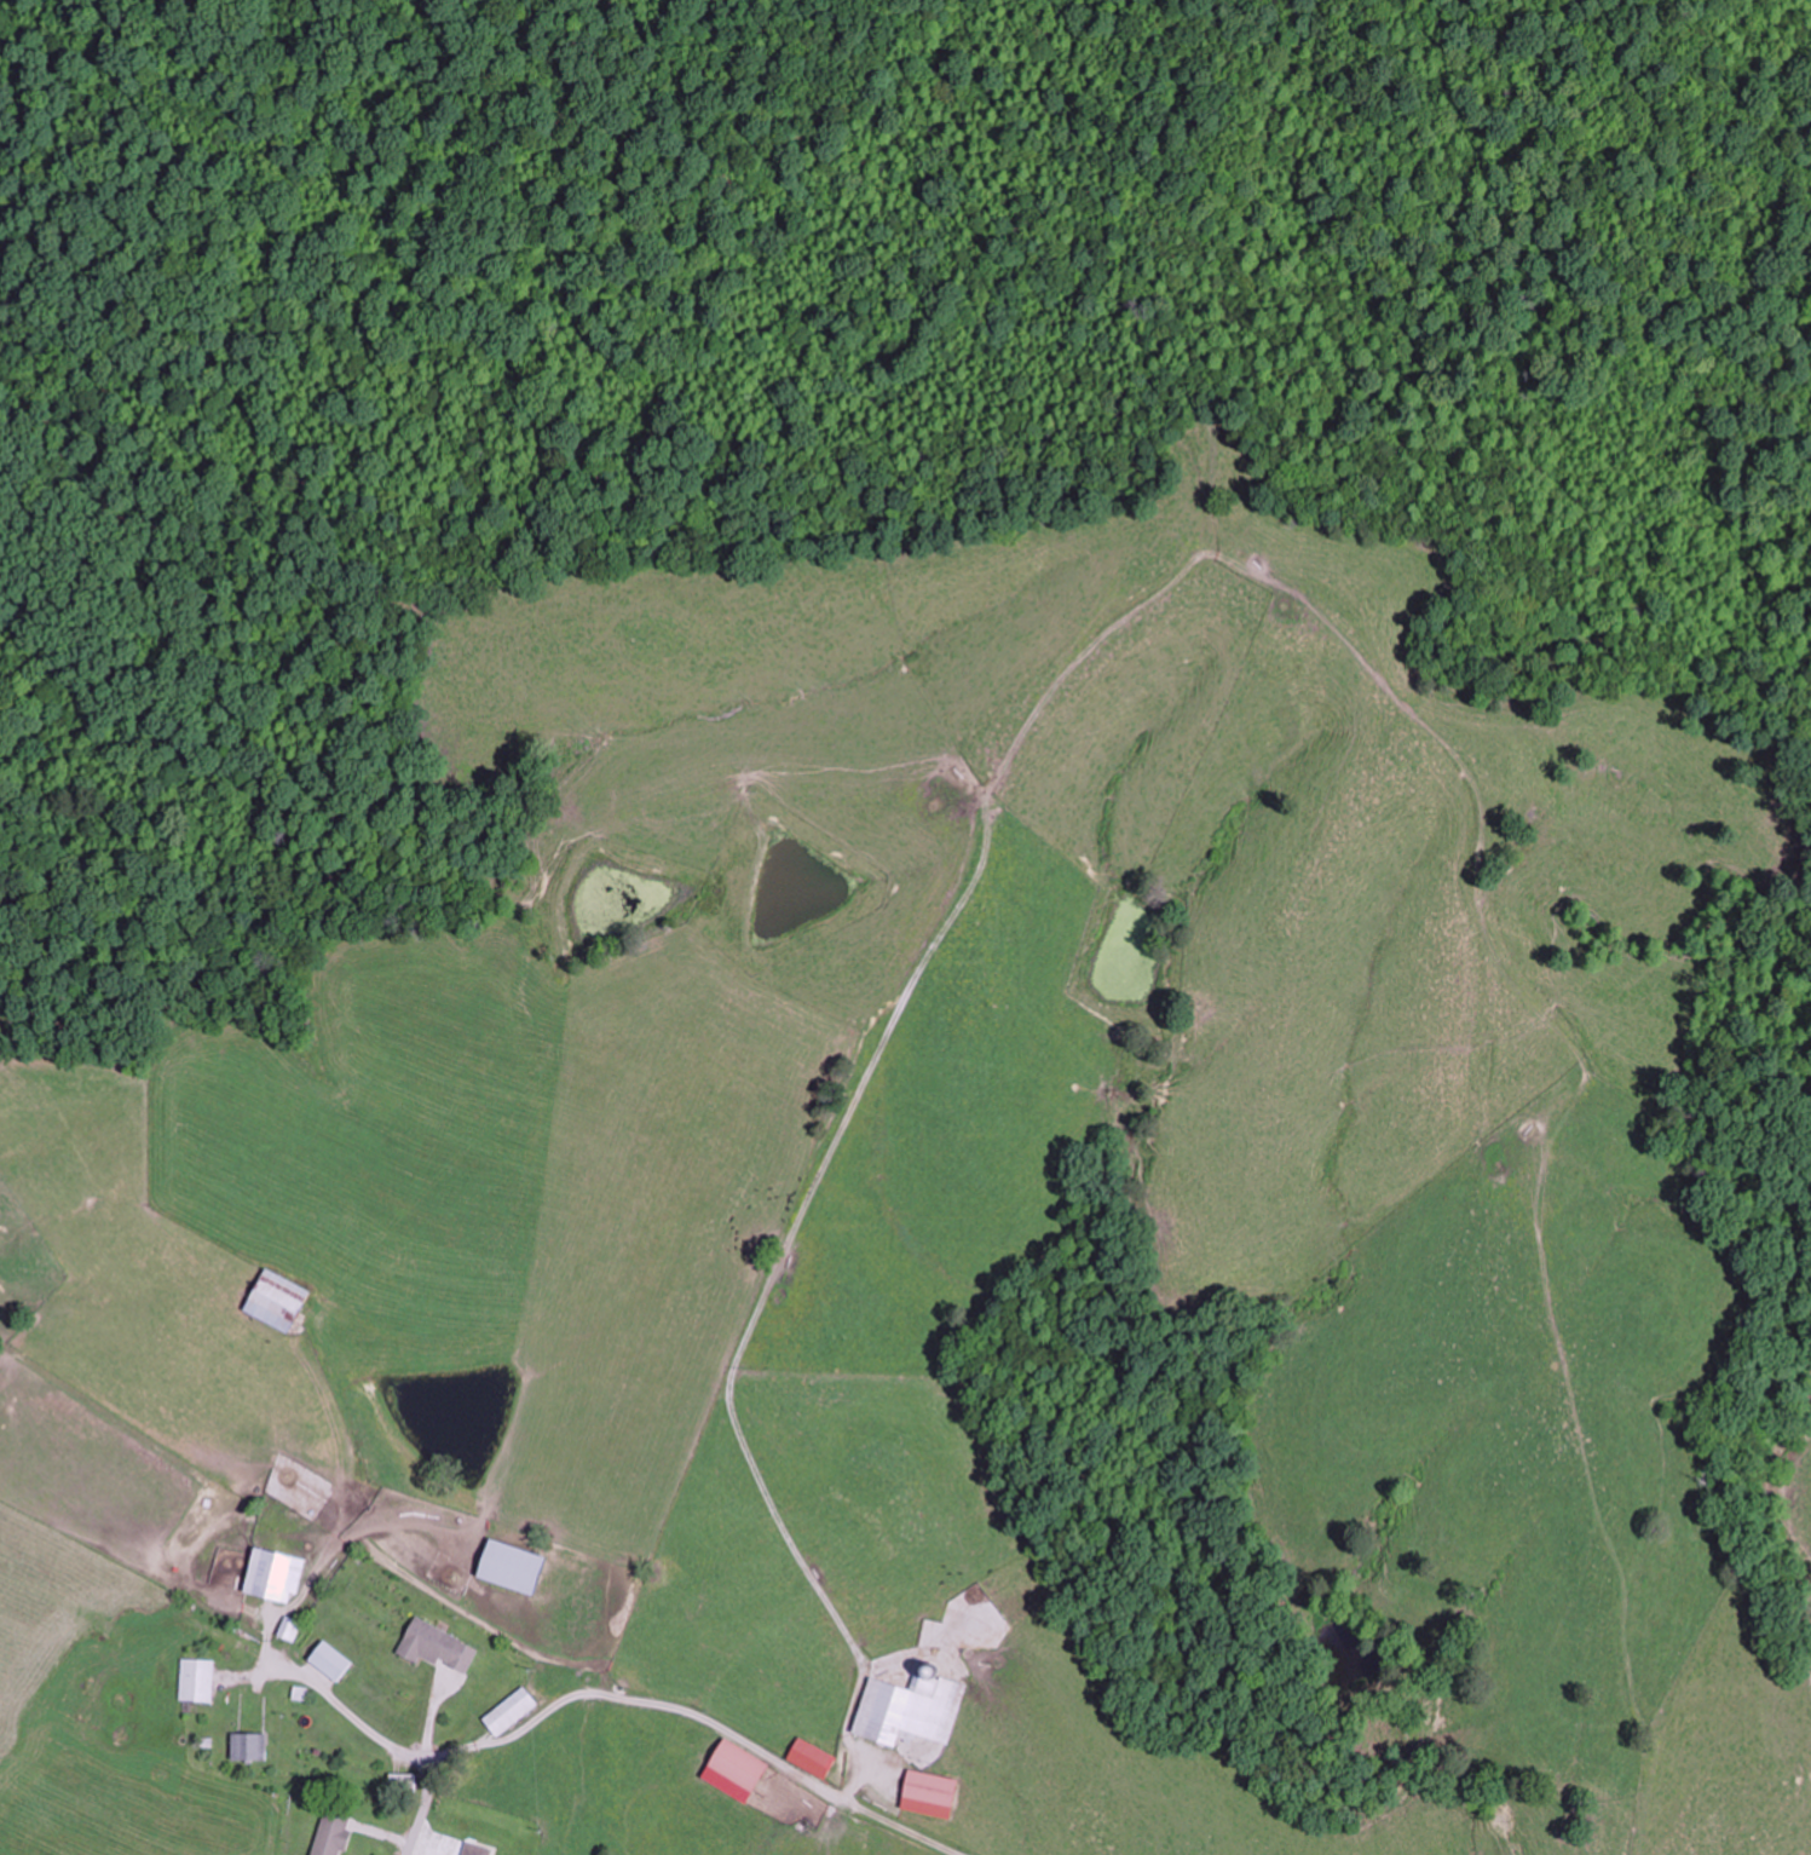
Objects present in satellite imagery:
building: (272, 1301)
building: (506, 1567)
building: (271, 1575)
building: (434, 1647)
building: (327, 1661)
building: (196, 1682)
building: (910, 1710)
building: (507, 1712)
road: (700, 1712)
building: (247, 1747)
road: (400, 1753)
building: (736, 1765)
building: (928, 1788)
building: (329, 1834)
building: (471, 1849)

